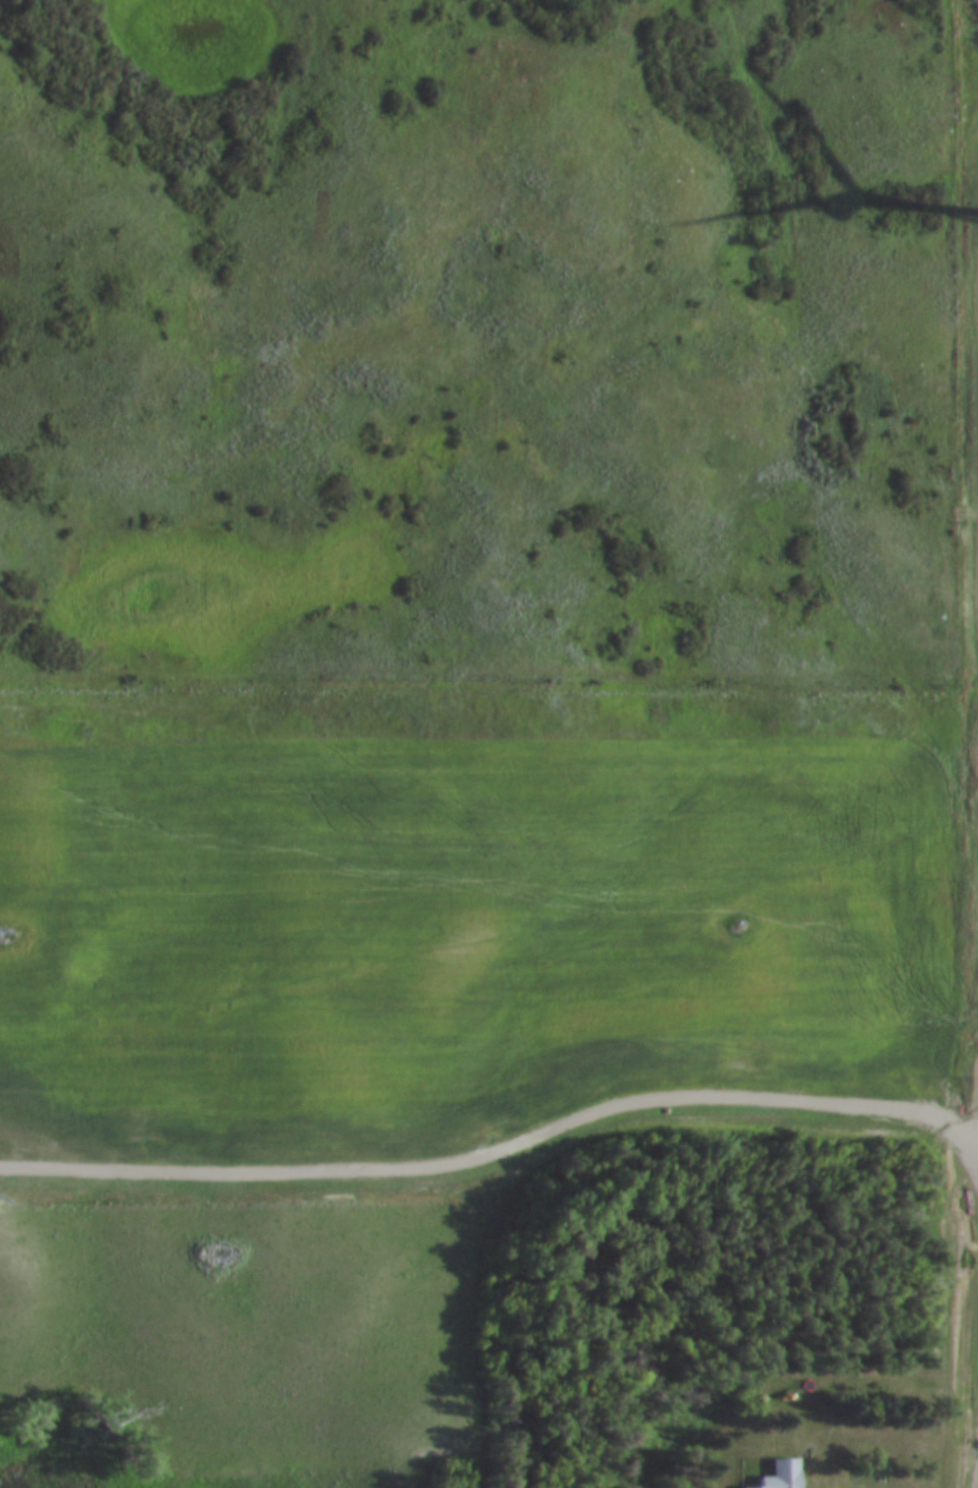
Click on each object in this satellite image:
road: (512, 1150)
road: (973, 1447)
building: (791, 1474)

